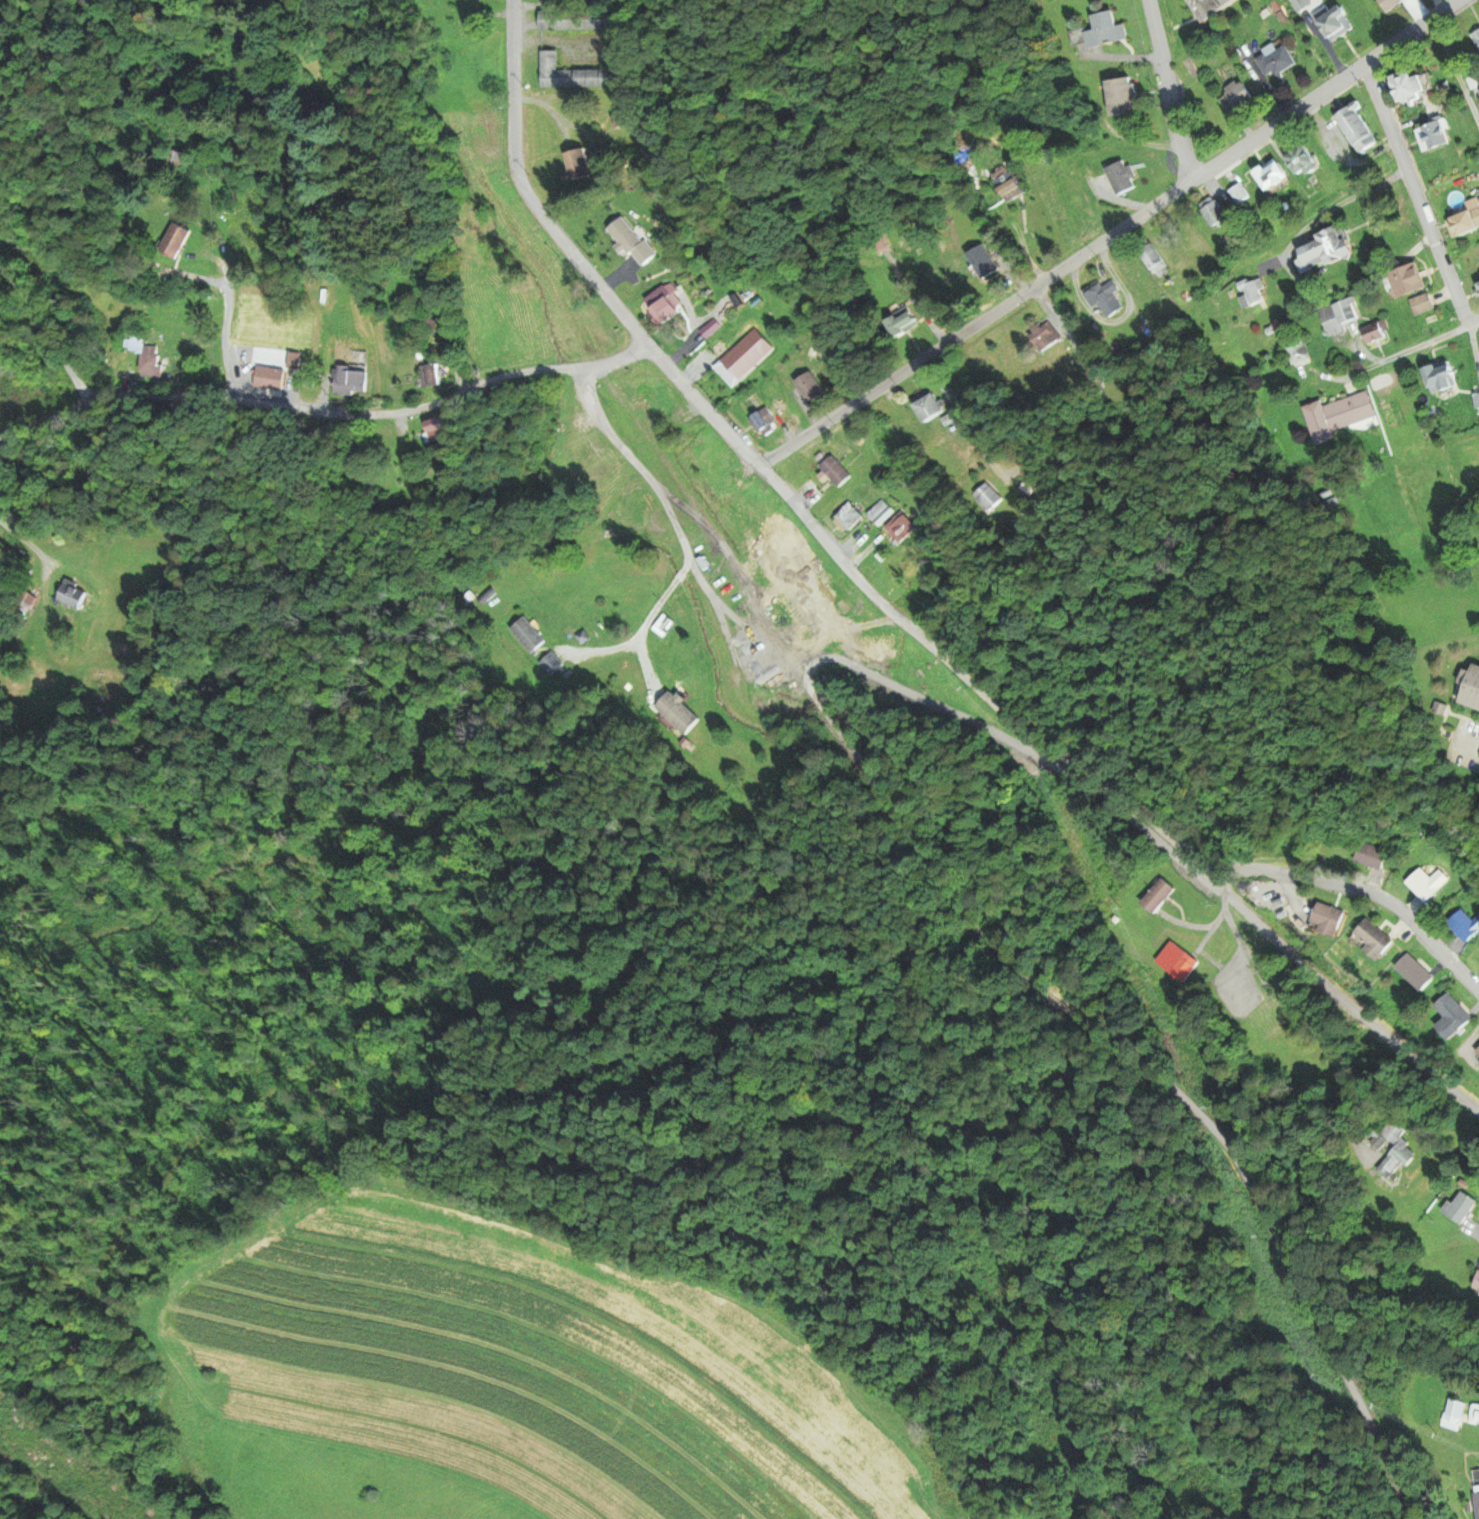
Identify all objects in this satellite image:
building: (548, 1)
building: (1390, 4)
building: (1211, 7)
building: (579, 20)
building: (1332, 25)
building: (1106, 31)
building: (1476, 38)
building: (1276, 61)
road: (1459, 69)
building: (577, 76)
building: (1410, 88)
road: (1170, 91)
building: (1237, 96)
building: (1124, 98)
building: (626, 118)
building: (1358, 131)
building: (1434, 138)
building: (177, 159)
building: (1303, 162)
building: (577, 164)
building: (1273, 177)
building: (1123, 178)
building: (1008, 186)
road: (1416, 194)
building: (1239, 195)
road: (1353, 200)
building: (1215, 215)
road: (312, 221)
building: (1463, 226)
road: (1111, 236)
building: (176, 242)
road: (199, 246)
building: (1330, 250)
building: (1154, 261)
building: (1408, 282)
building: (1252, 293)
building: (1107, 300)
building: (1423, 305)
building: (663, 306)
building: (1342, 316)
building: (903, 324)
building: (1375, 334)
building: (1046, 335)
road: (1412, 348)
building: (1298, 351)
building: (144, 356)
building: (742, 357)
building: (429, 375)
building: (1442, 377)
building: (349, 381)
building: (810, 387)
building: (1477, 403)
building: (930, 407)
road: (327, 413)
building: (1341, 415)
road: (456, 418)
building: (762, 420)
building: (437, 428)
building: (589, 453)
building: (834, 472)
road: (779, 489)
building: (988, 496)
building: (634, 508)
building: (881, 513)
building: (848, 517)
building: (905, 526)
building: (71, 595)
building: (804, 597)
building: (25, 602)
building: (663, 627)
building: (527, 635)
building: (551, 664)
building: (1471, 693)
building: (677, 713)
building: (1372, 855)
road: (739, 860)
building: (1428, 883)
road: (1365, 894)
building: (1158, 896)
building: (1327, 920)
building: (1465, 926)
building: (1373, 939)
building: (1178, 962)
building: (1414, 972)
road: (1246, 1009)
building: (1452, 1017)
building: (1478, 1052)
building: (1396, 1151)
building: (1461, 1207)
building: (1477, 1284)
building: (1453, 1414)
building: (1475, 1414)
building: (1476, 1492)

